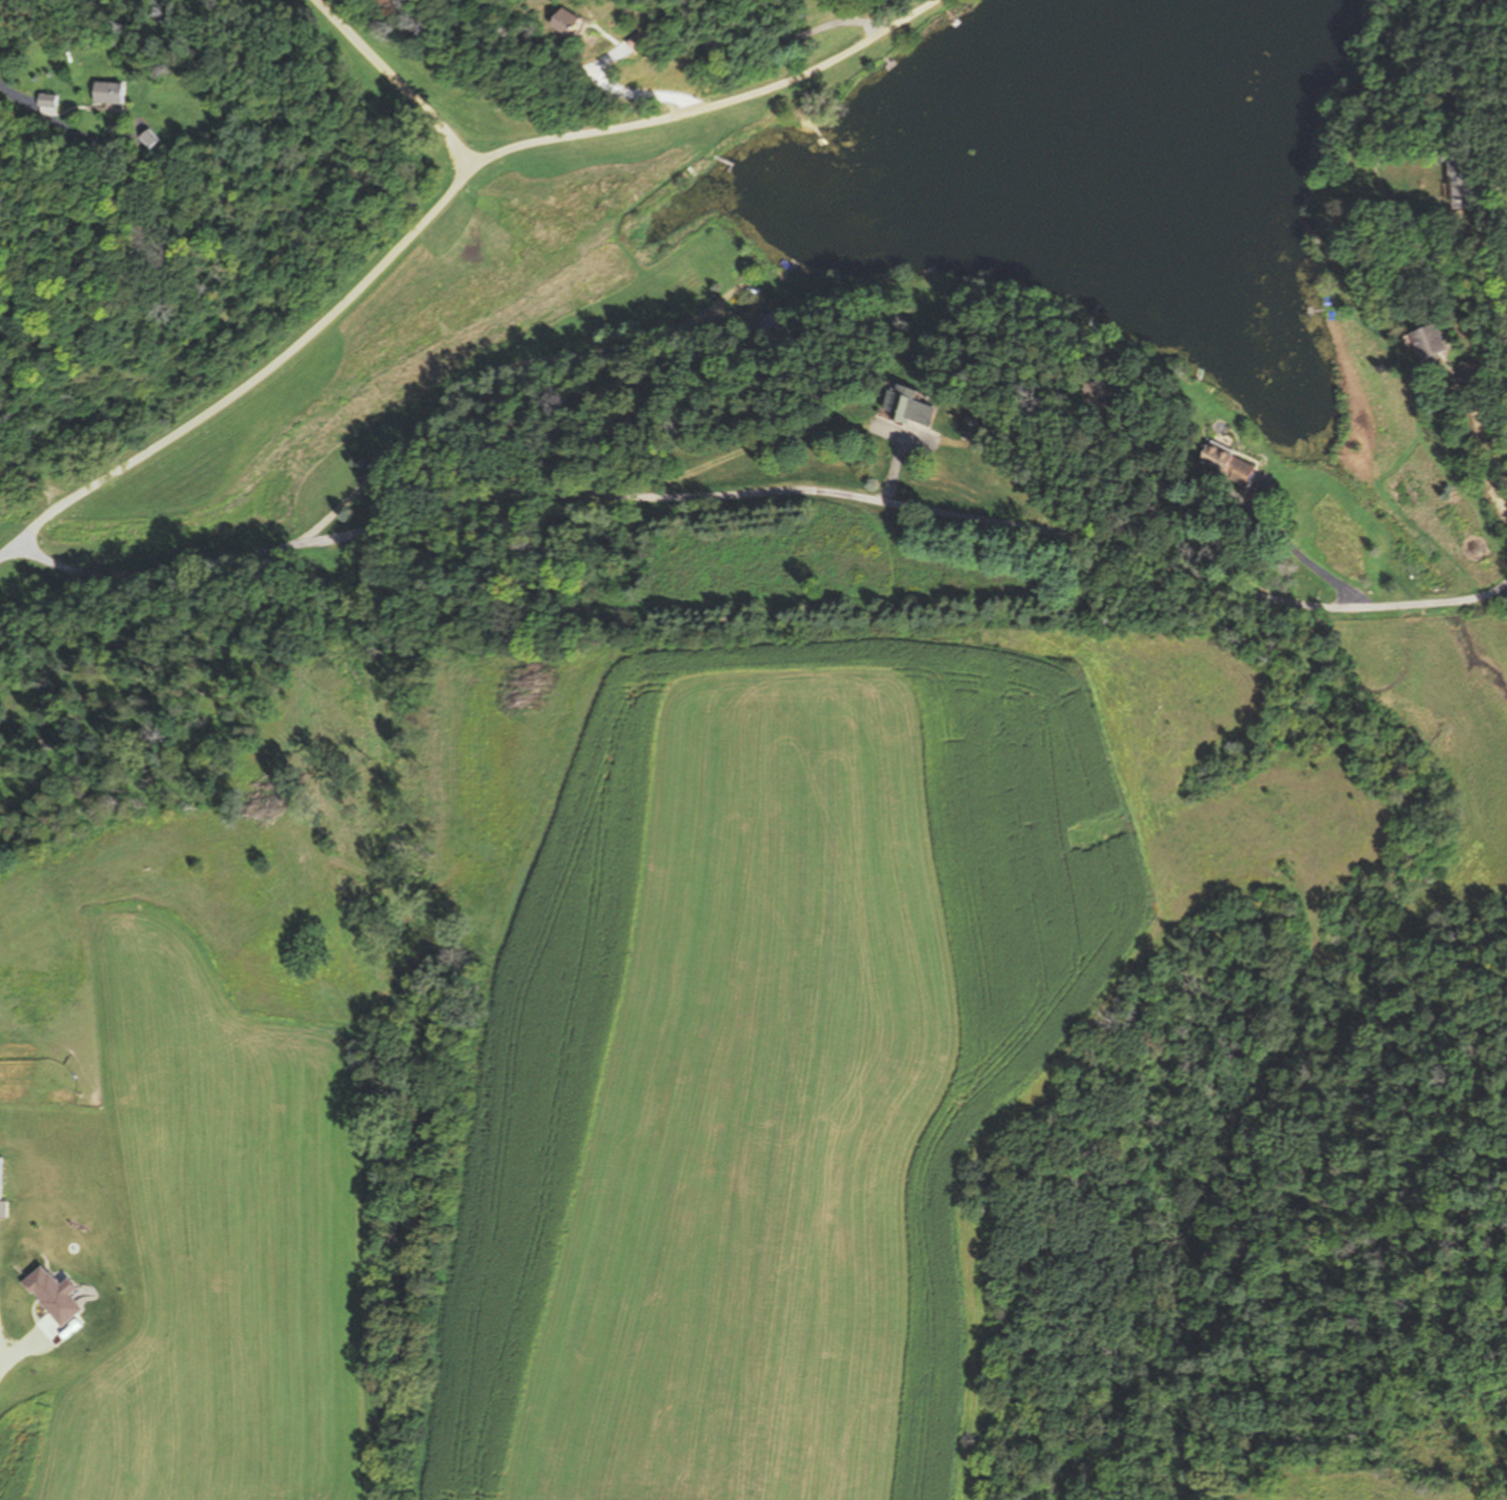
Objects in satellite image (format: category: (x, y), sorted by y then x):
building: (563, 20)
building: (710, 47)
road: (397, 83)
building: (108, 93)
building: (47, 100)
road: (78, 133)
building: (1469, 181)
road: (432, 210)
building: (1428, 340)
road: (545, 365)
building: (1474, 373)
building: (910, 405)
building: (973, 428)
building: (1226, 463)
road: (764, 495)

